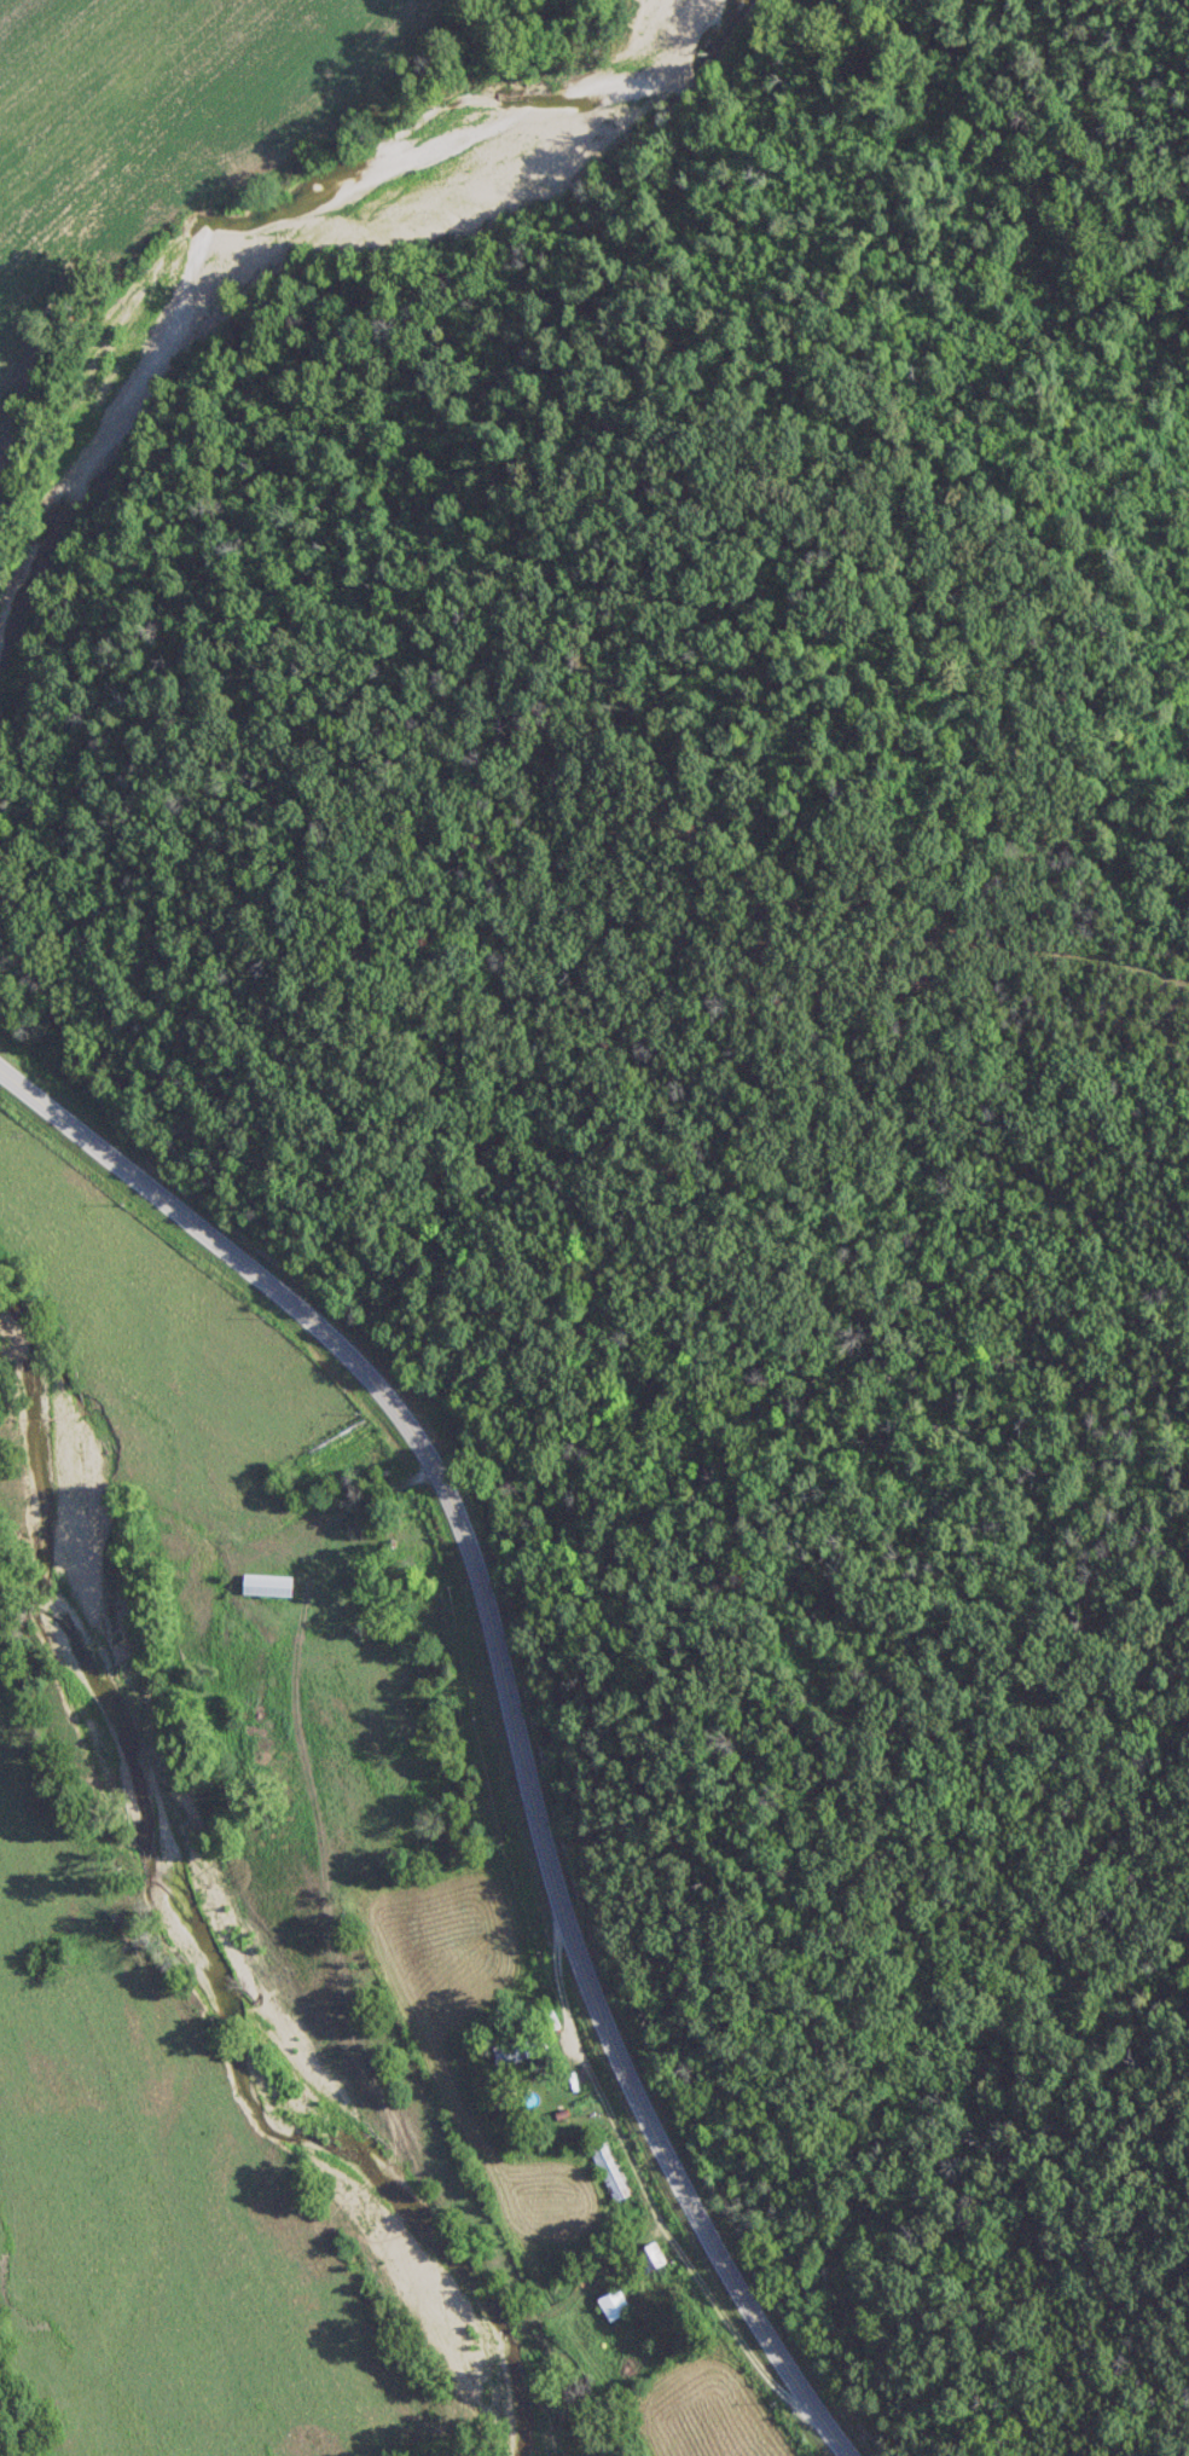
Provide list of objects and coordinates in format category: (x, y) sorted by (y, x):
building: (267, 1585)
road: (506, 1699)
building: (516, 2049)
building: (608, 2170)
building: (651, 2257)
building: (614, 2302)

